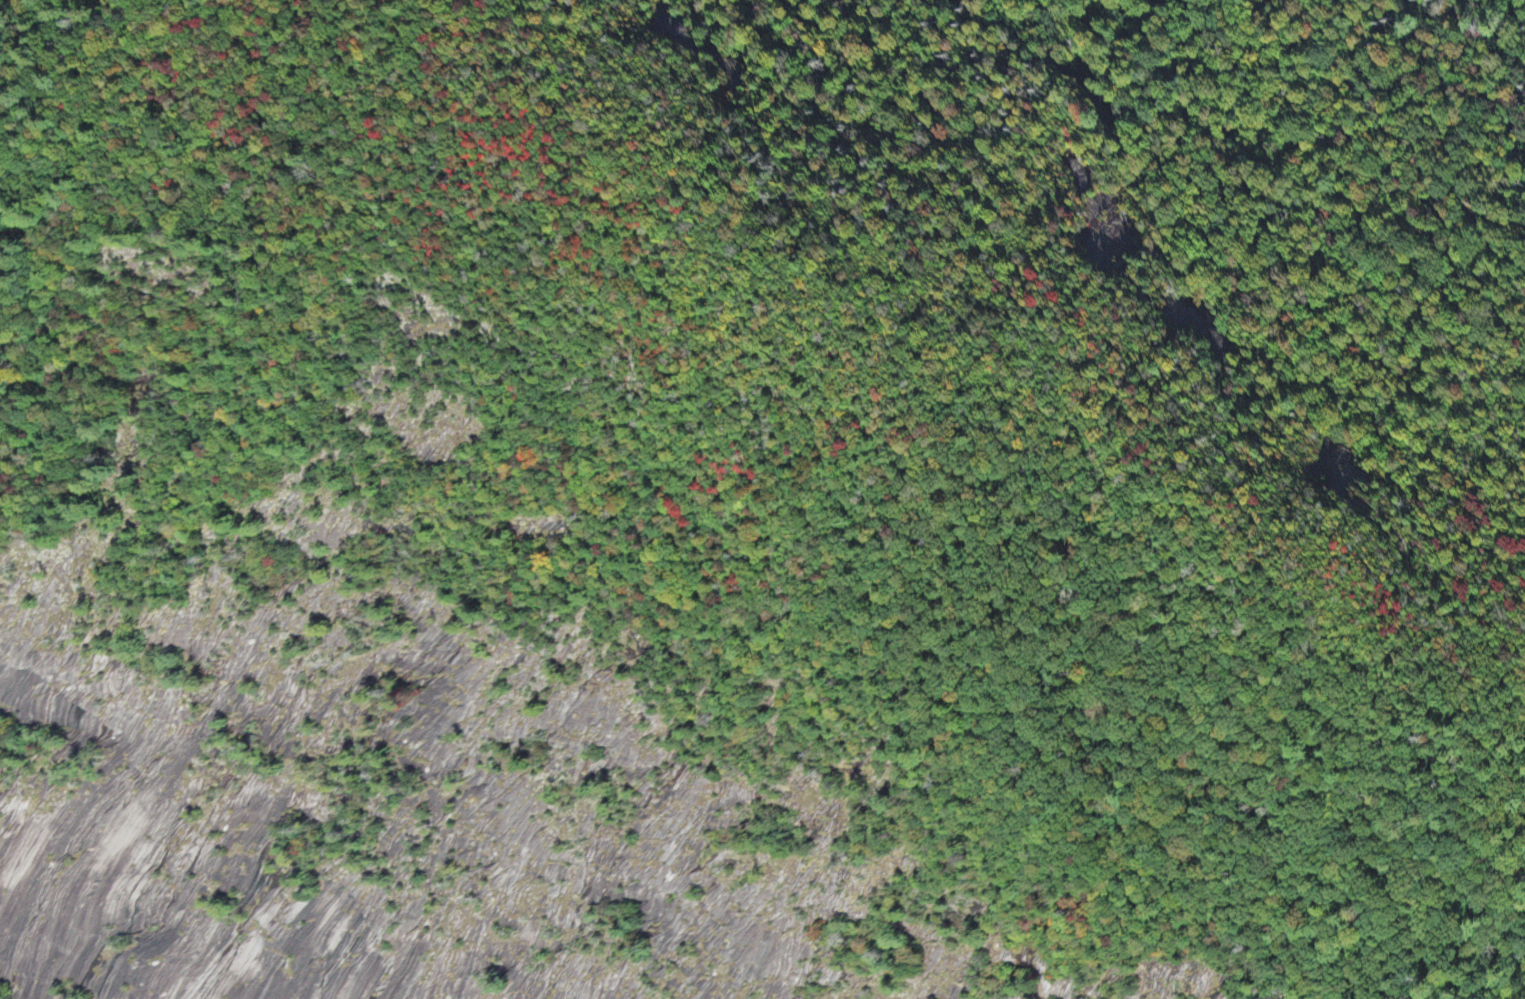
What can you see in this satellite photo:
park: (990, 293)

